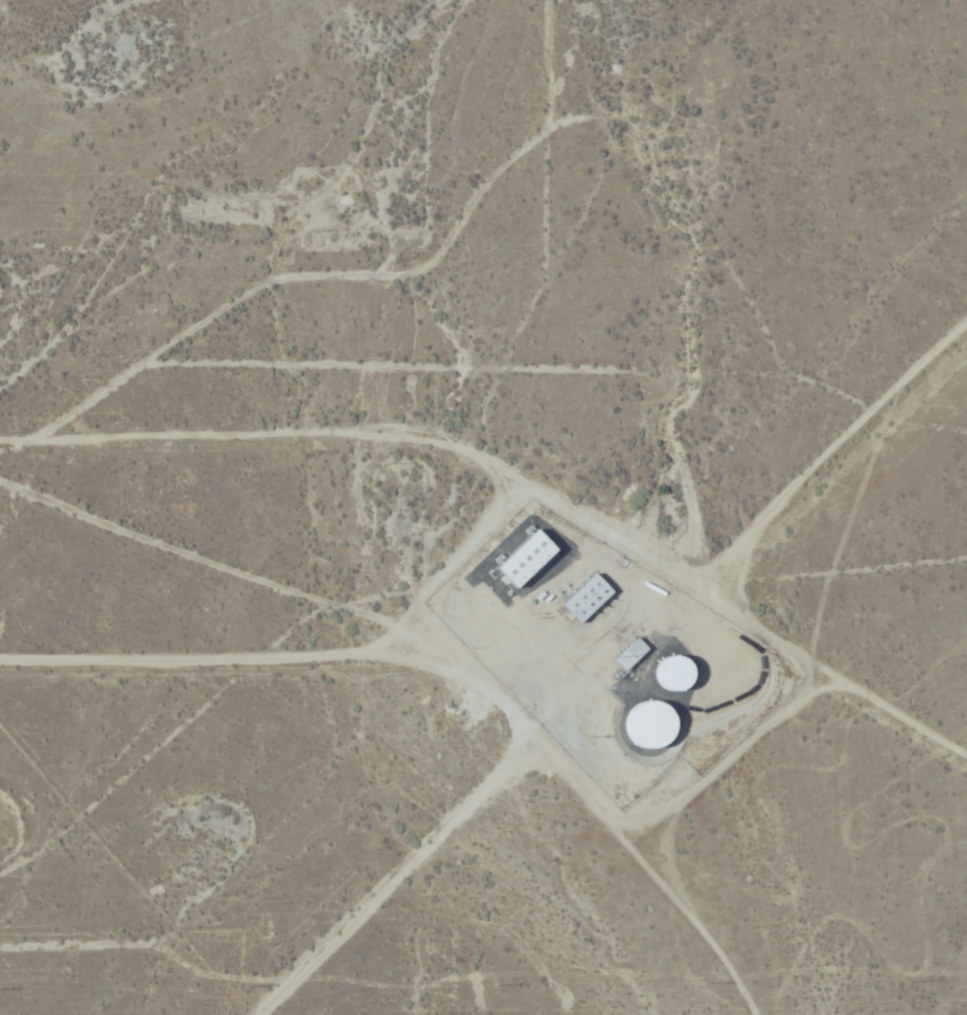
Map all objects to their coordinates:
building: (519, 559)
road: (734, 586)
building: (582, 599)
building: (628, 655)
building: (667, 673)
building: (645, 725)

